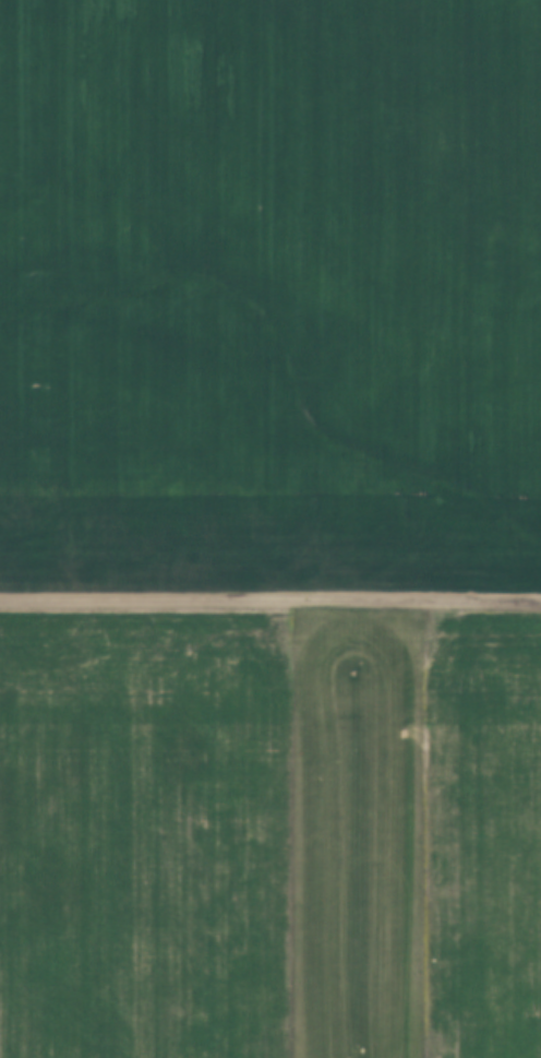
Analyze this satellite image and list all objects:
road: (270, 603)
airport runway: (361, 846)

